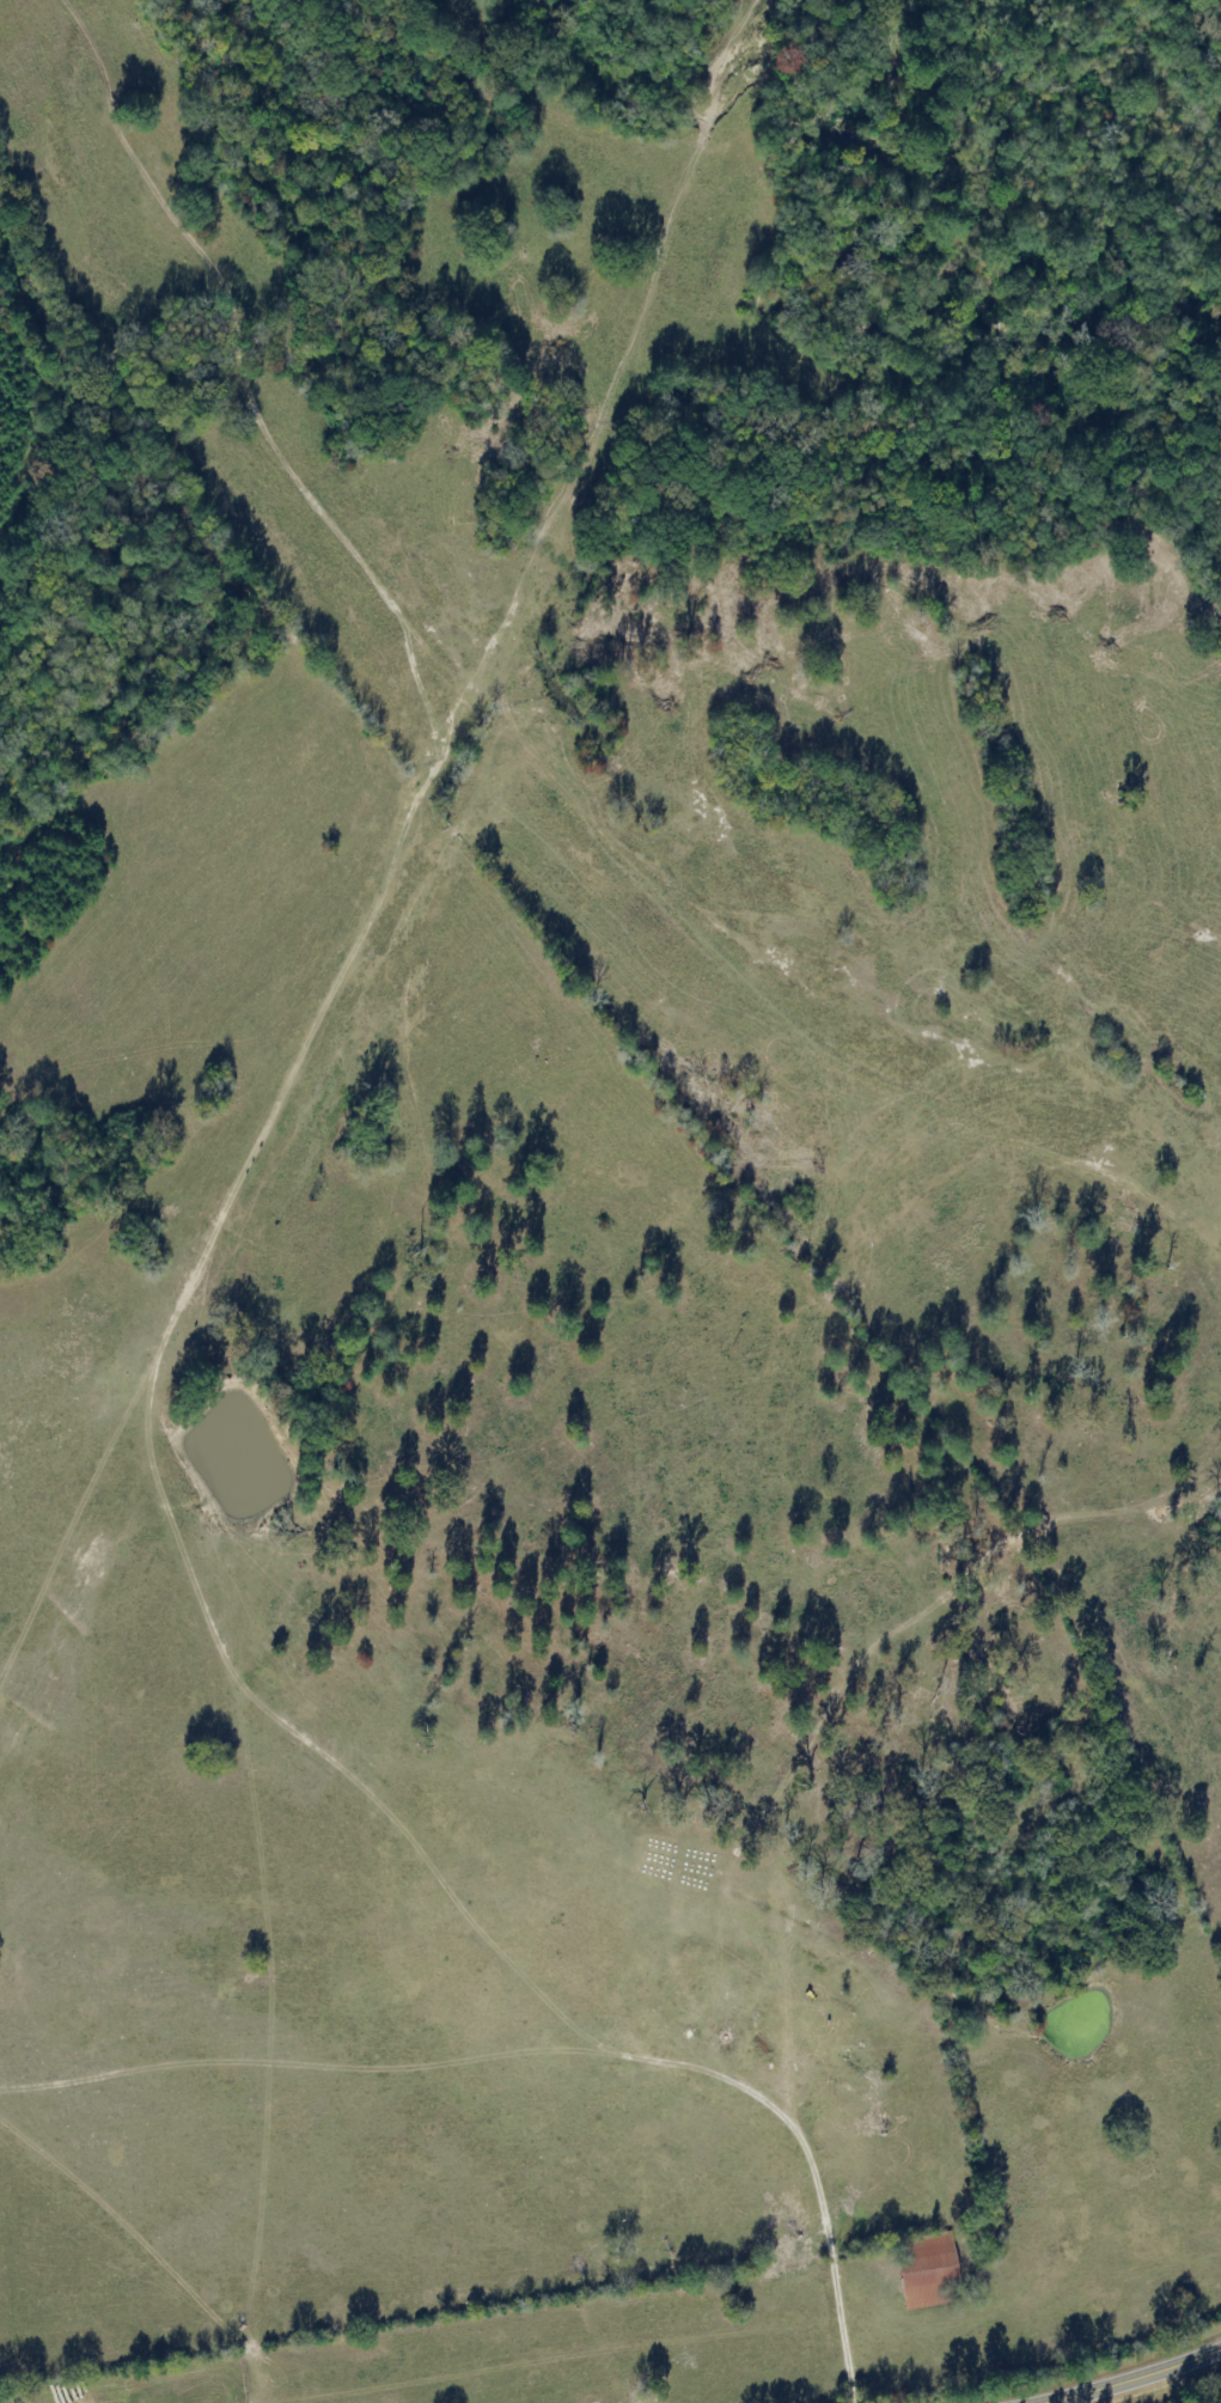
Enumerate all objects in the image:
road: (1137, 2380)

